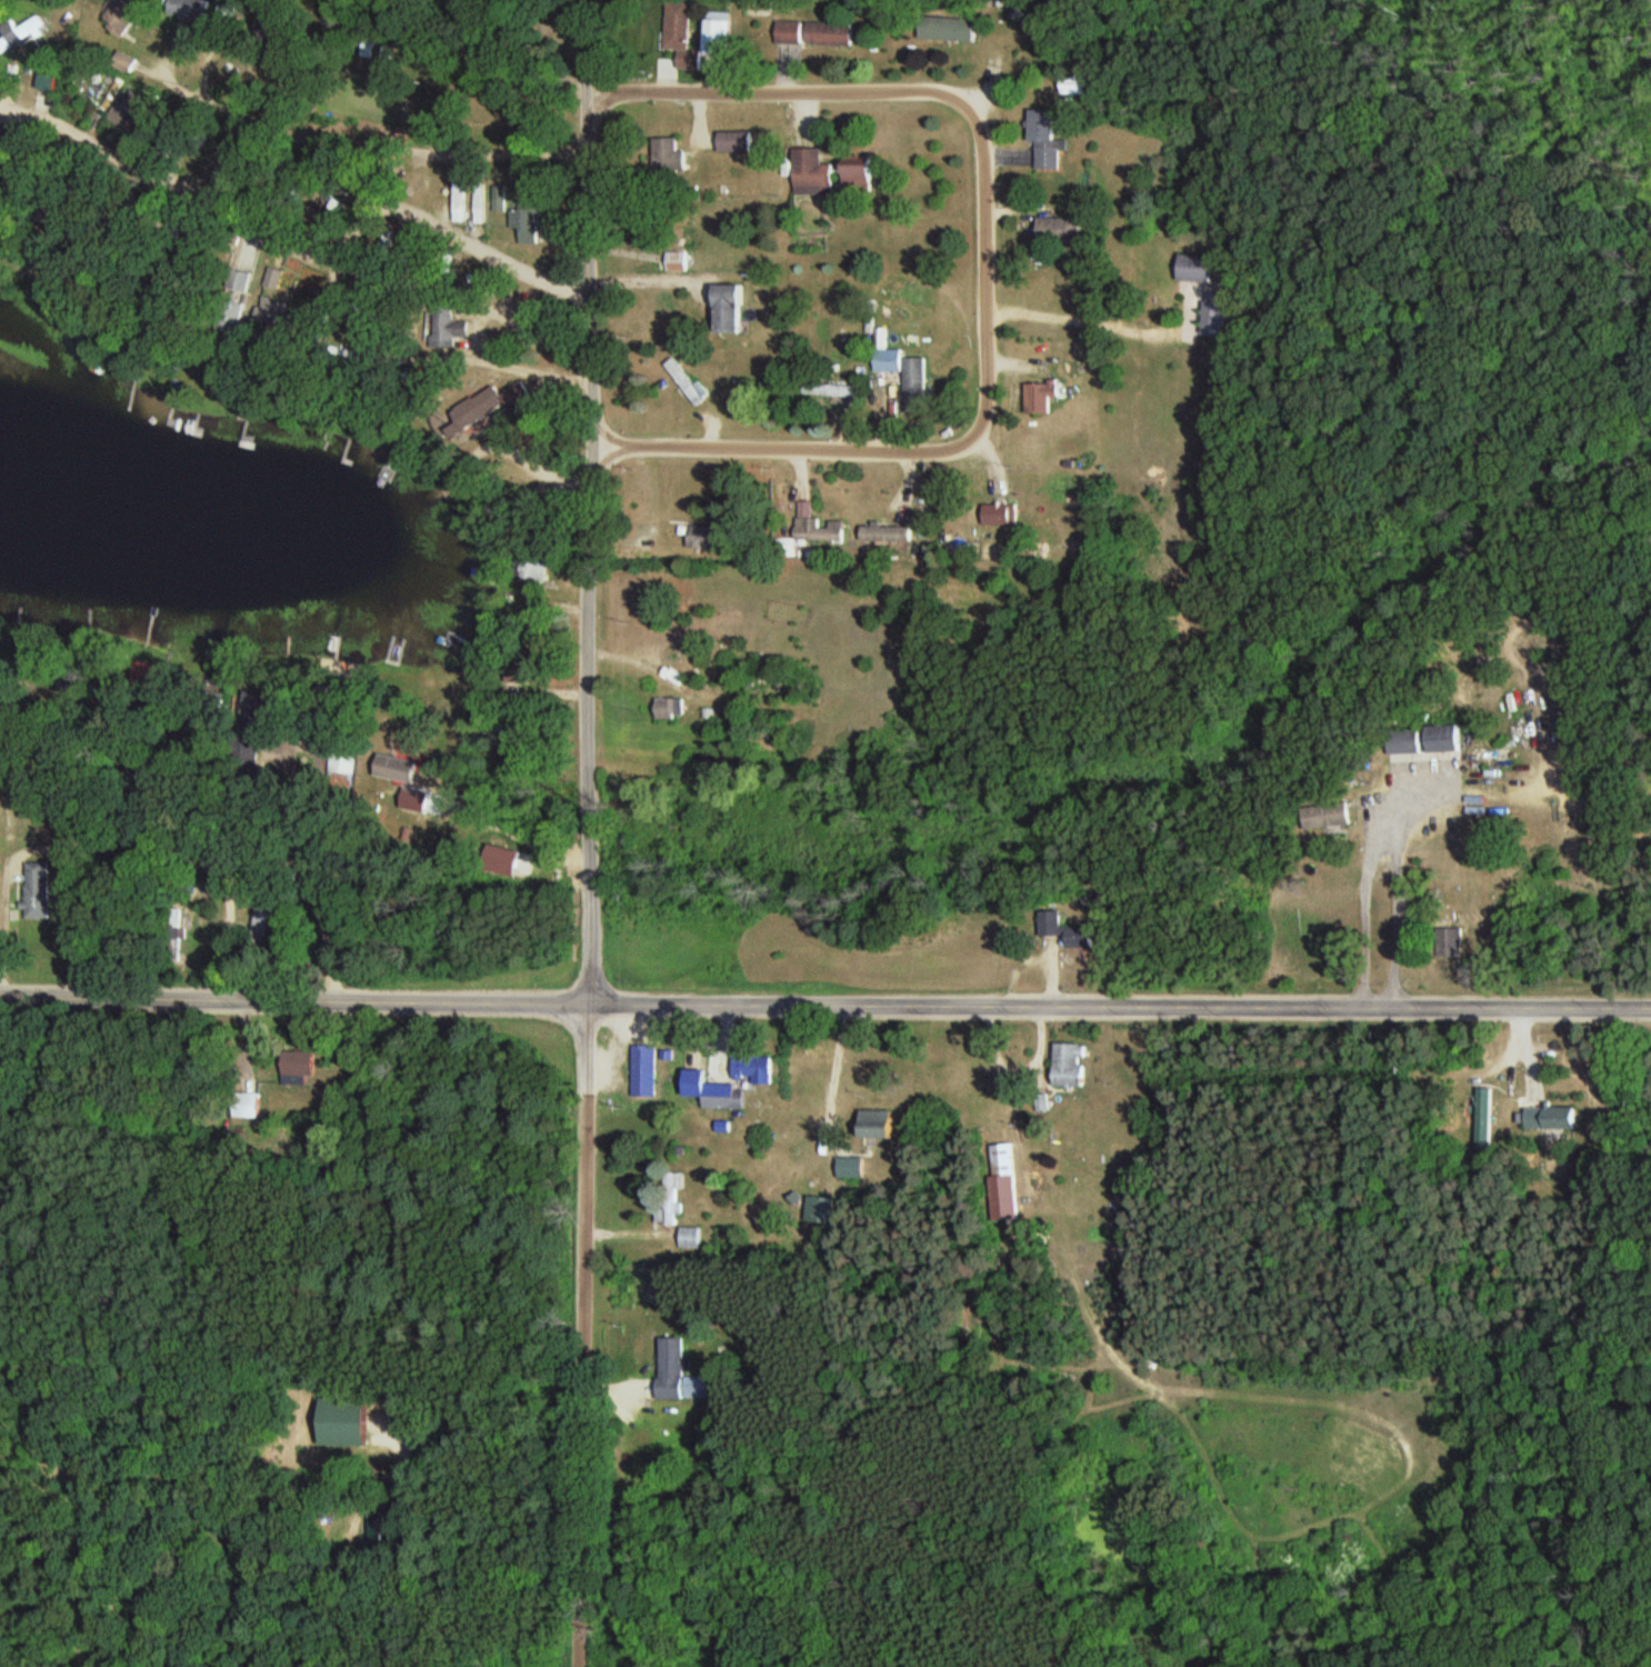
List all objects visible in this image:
building: (761, 6)
building: (122, 17)
building: (678, 27)
building: (952, 29)
building: (793, 32)
building: (833, 34)
building: (719, 38)
building: (4, 40)
building: (692, 61)
road: (788, 92)
building: (737, 142)
building: (1049, 142)
road: (483, 152)
building: (816, 173)
building: (863, 177)
building: (453, 193)
building: (1064, 228)
road: (302, 251)
building: (679, 262)
building: (1197, 268)
road: (644, 278)
building: (732, 310)
building: (1215, 313)
road: (1080, 319)
road: (431, 360)
building: (908, 377)
building: (687, 382)
building: (1042, 397)
building: (494, 407)
road: (958, 436)
road: (539, 470)
road: (589, 501)
building: (1002, 516)
building: (820, 531)
building: (888, 535)
building: (702, 538)
building: (532, 571)
building: (669, 710)
building: (1428, 741)
building: (342, 760)
building: (406, 771)
building: (1334, 817)
road: (516, 836)
road: (33, 847)
road: (1391, 881)
building: (38, 891)
road: (74, 912)
building: (260, 914)
road: (1359, 921)
building: (1070, 931)
road: (214, 936)
road: (824, 1002)
road: (1518, 1052)
building: (1074, 1065)
building: (759, 1066)
building: (300, 1067)
building: (648, 1070)
road: (828, 1071)
building: (728, 1097)
building: (1483, 1111)
building: (1552, 1117)
building: (883, 1124)
building: (850, 1167)
building: (819, 1209)
building: (689, 1238)
road: (589, 1335)
building: (679, 1374)
building: (374, 1535)

